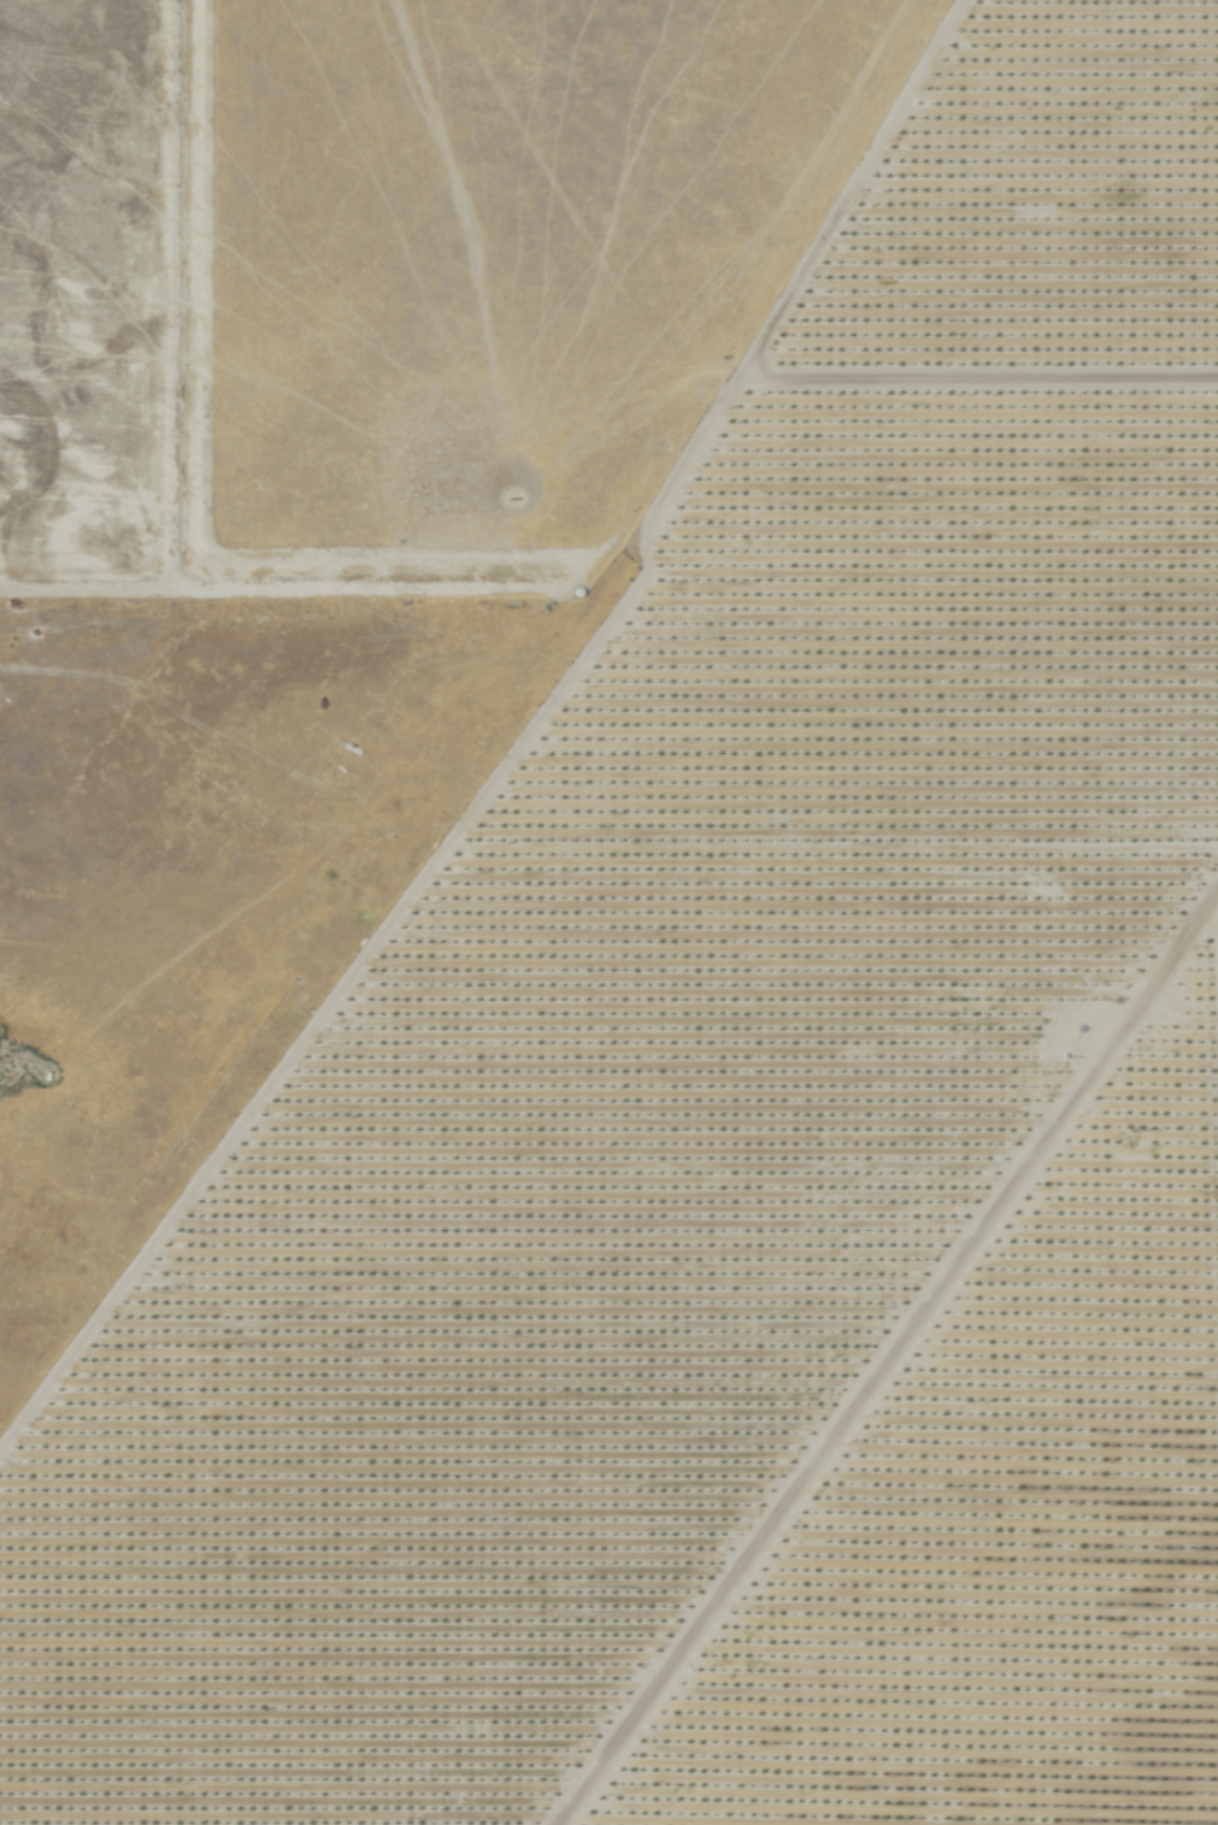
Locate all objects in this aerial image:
crop: (393, 269)
crop: (751, 1125)

